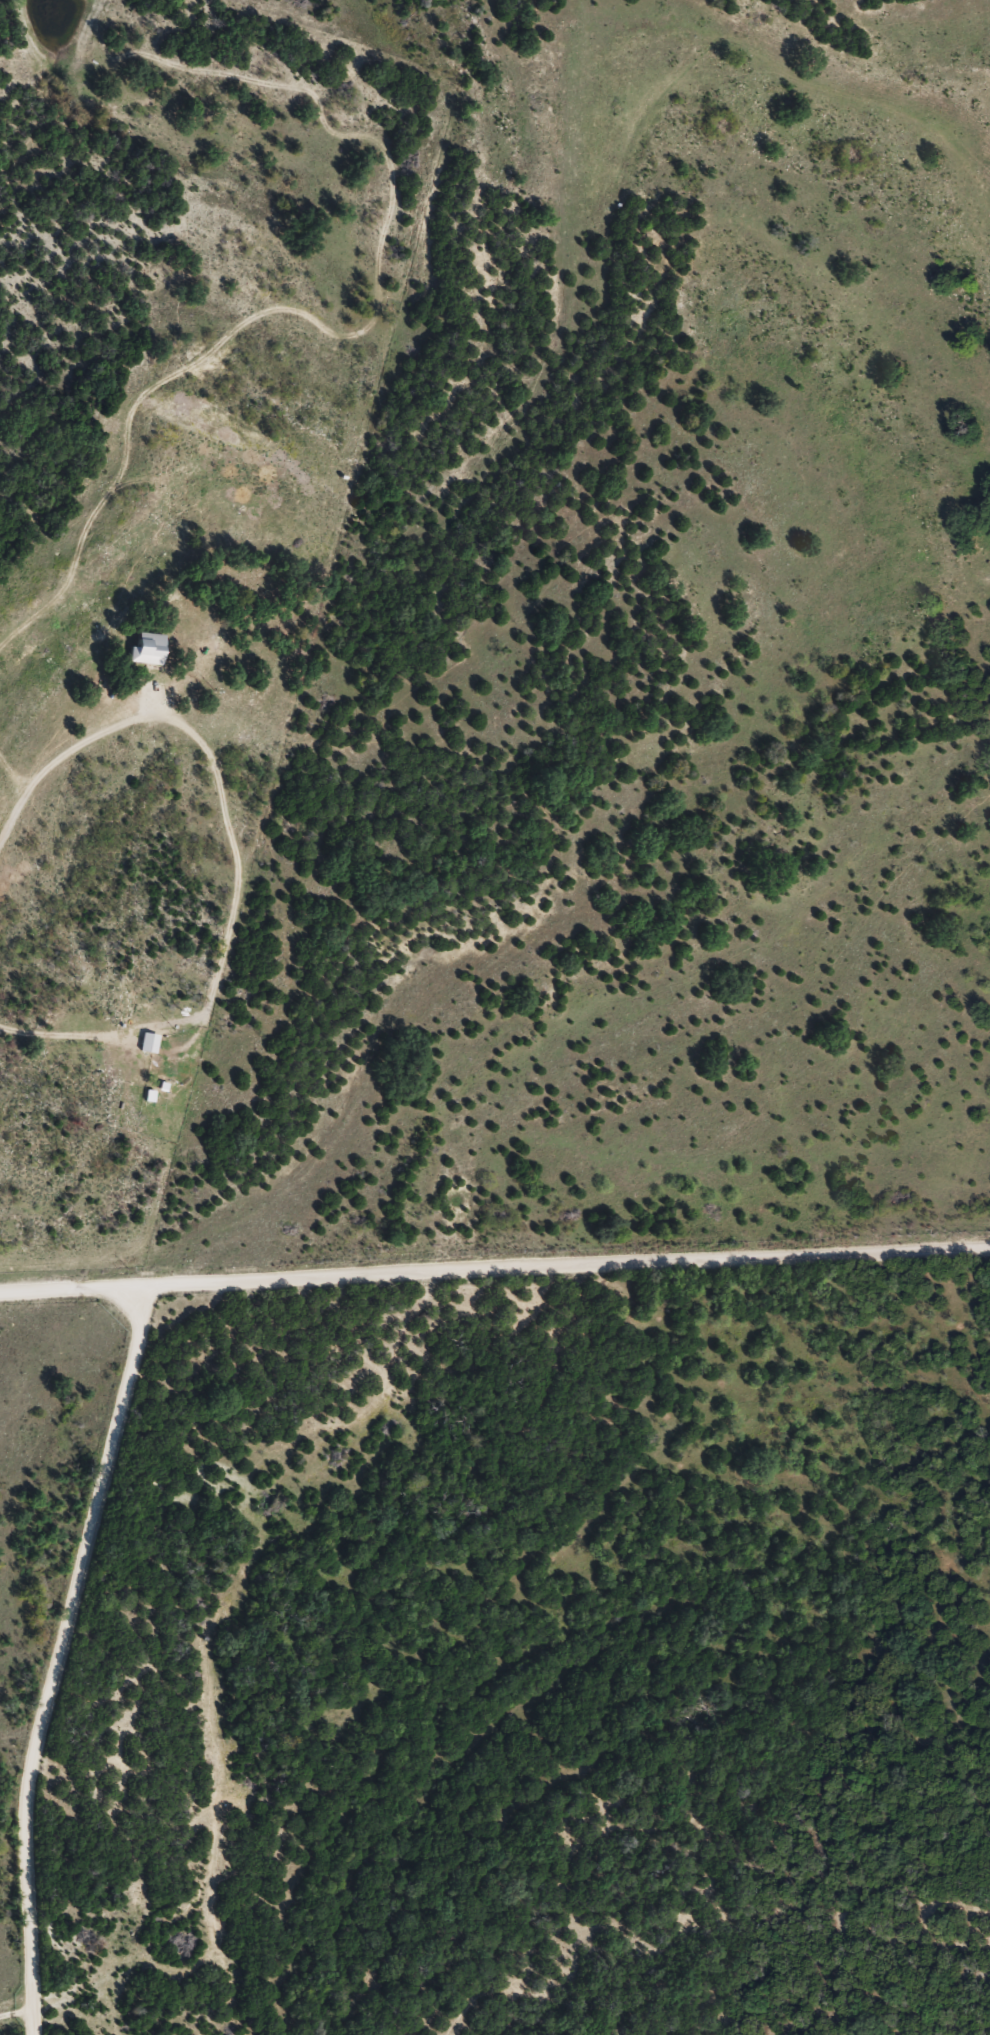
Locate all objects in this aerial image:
road: (870, 87)
building: (152, 653)
road: (685, 977)
building: (152, 1045)
road: (494, 1267)
road: (59, 1654)

